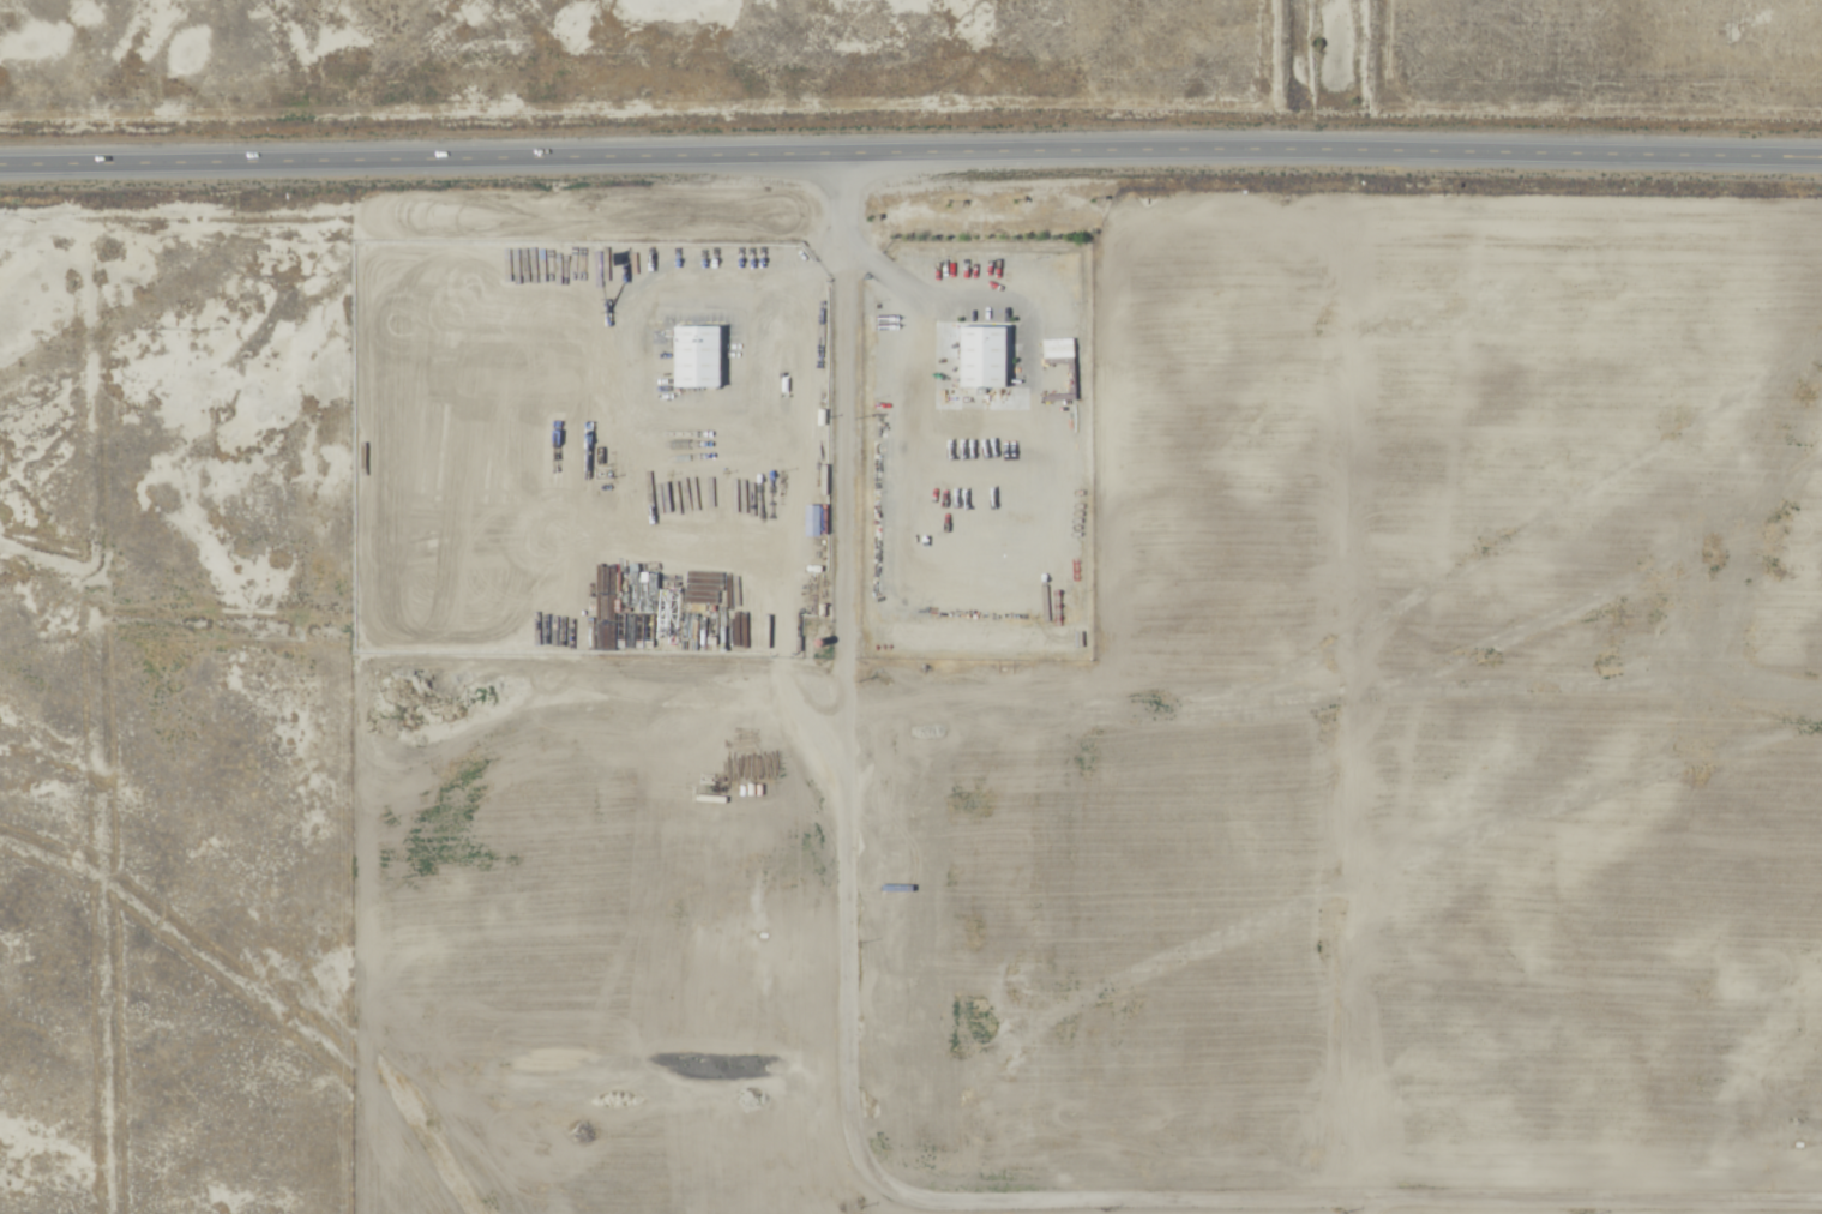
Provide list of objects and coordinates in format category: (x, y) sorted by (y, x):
road: (910, 152)
road: (885, 274)
road: (817, 277)
road: (659, 298)
building: (696, 357)
building: (982, 357)
road: (1054, 378)
road: (847, 410)
road: (759, 435)
road: (912, 505)
building: (751, 515)
airport runway: (440, 1141)
road: (1086, 1202)

